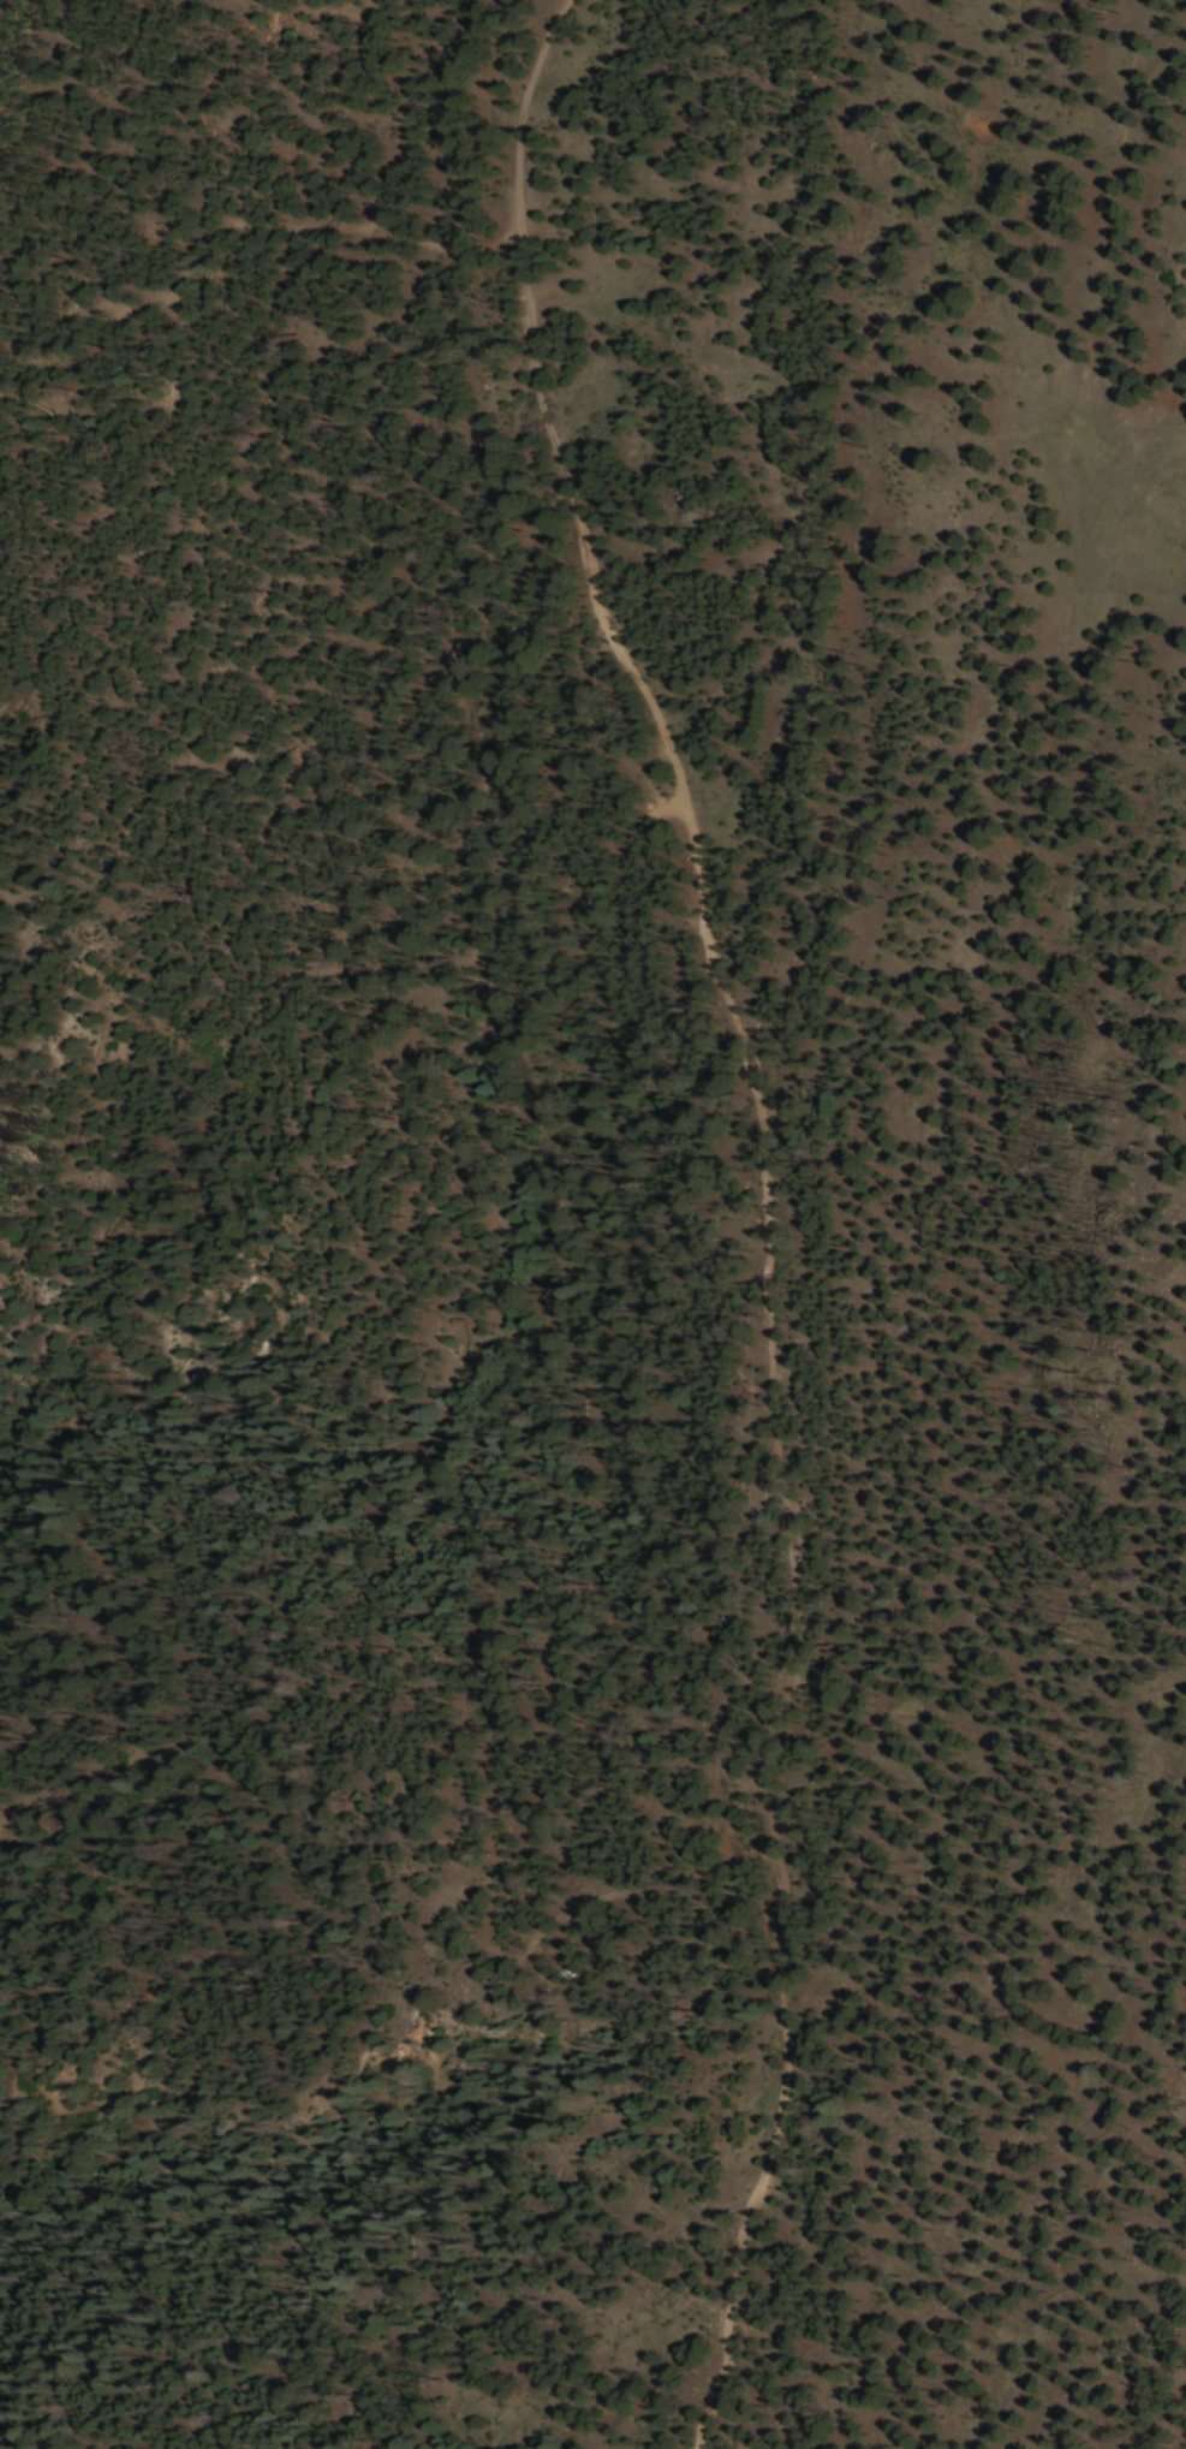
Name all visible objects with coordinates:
road: (728, 1202)

